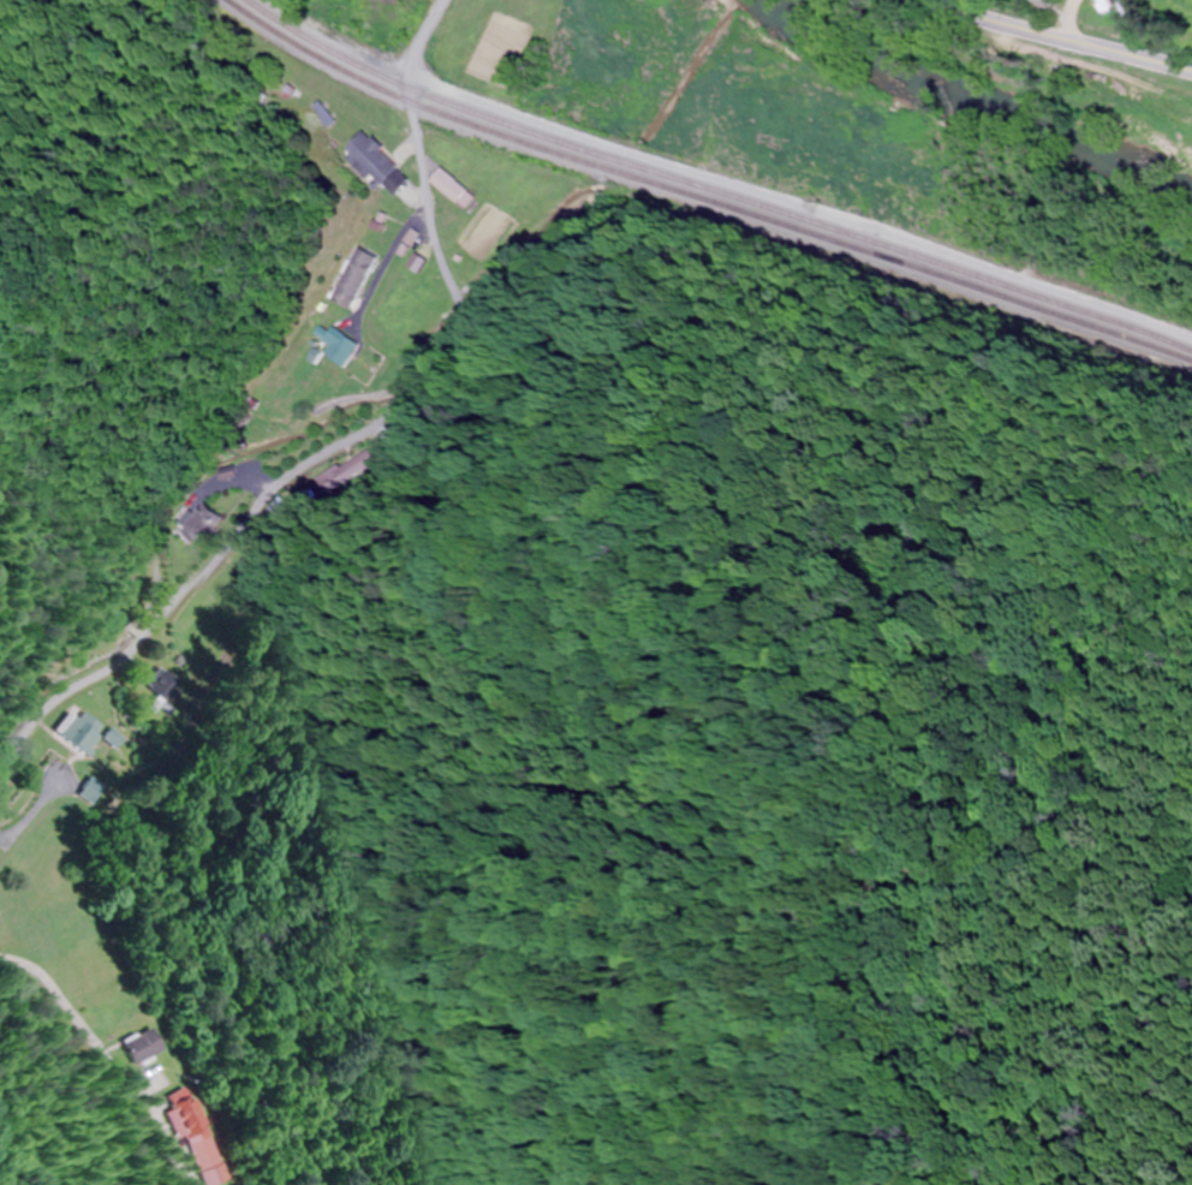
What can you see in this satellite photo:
building: (1131, 7)
road: (1065, 14)
building: (381, 16)
road: (1062, 35)
river: (977, 100)
building: (374, 165)
building: (453, 187)
railway: (710, 195)
road: (799, 212)
building: (353, 279)
building: (339, 347)
road: (362, 493)
building: (202, 524)
building: (113, 617)
building: (166, 685)
building: (82, 734)
building: (115, 739)
building: (91, 791)
building: (142, 1046)

